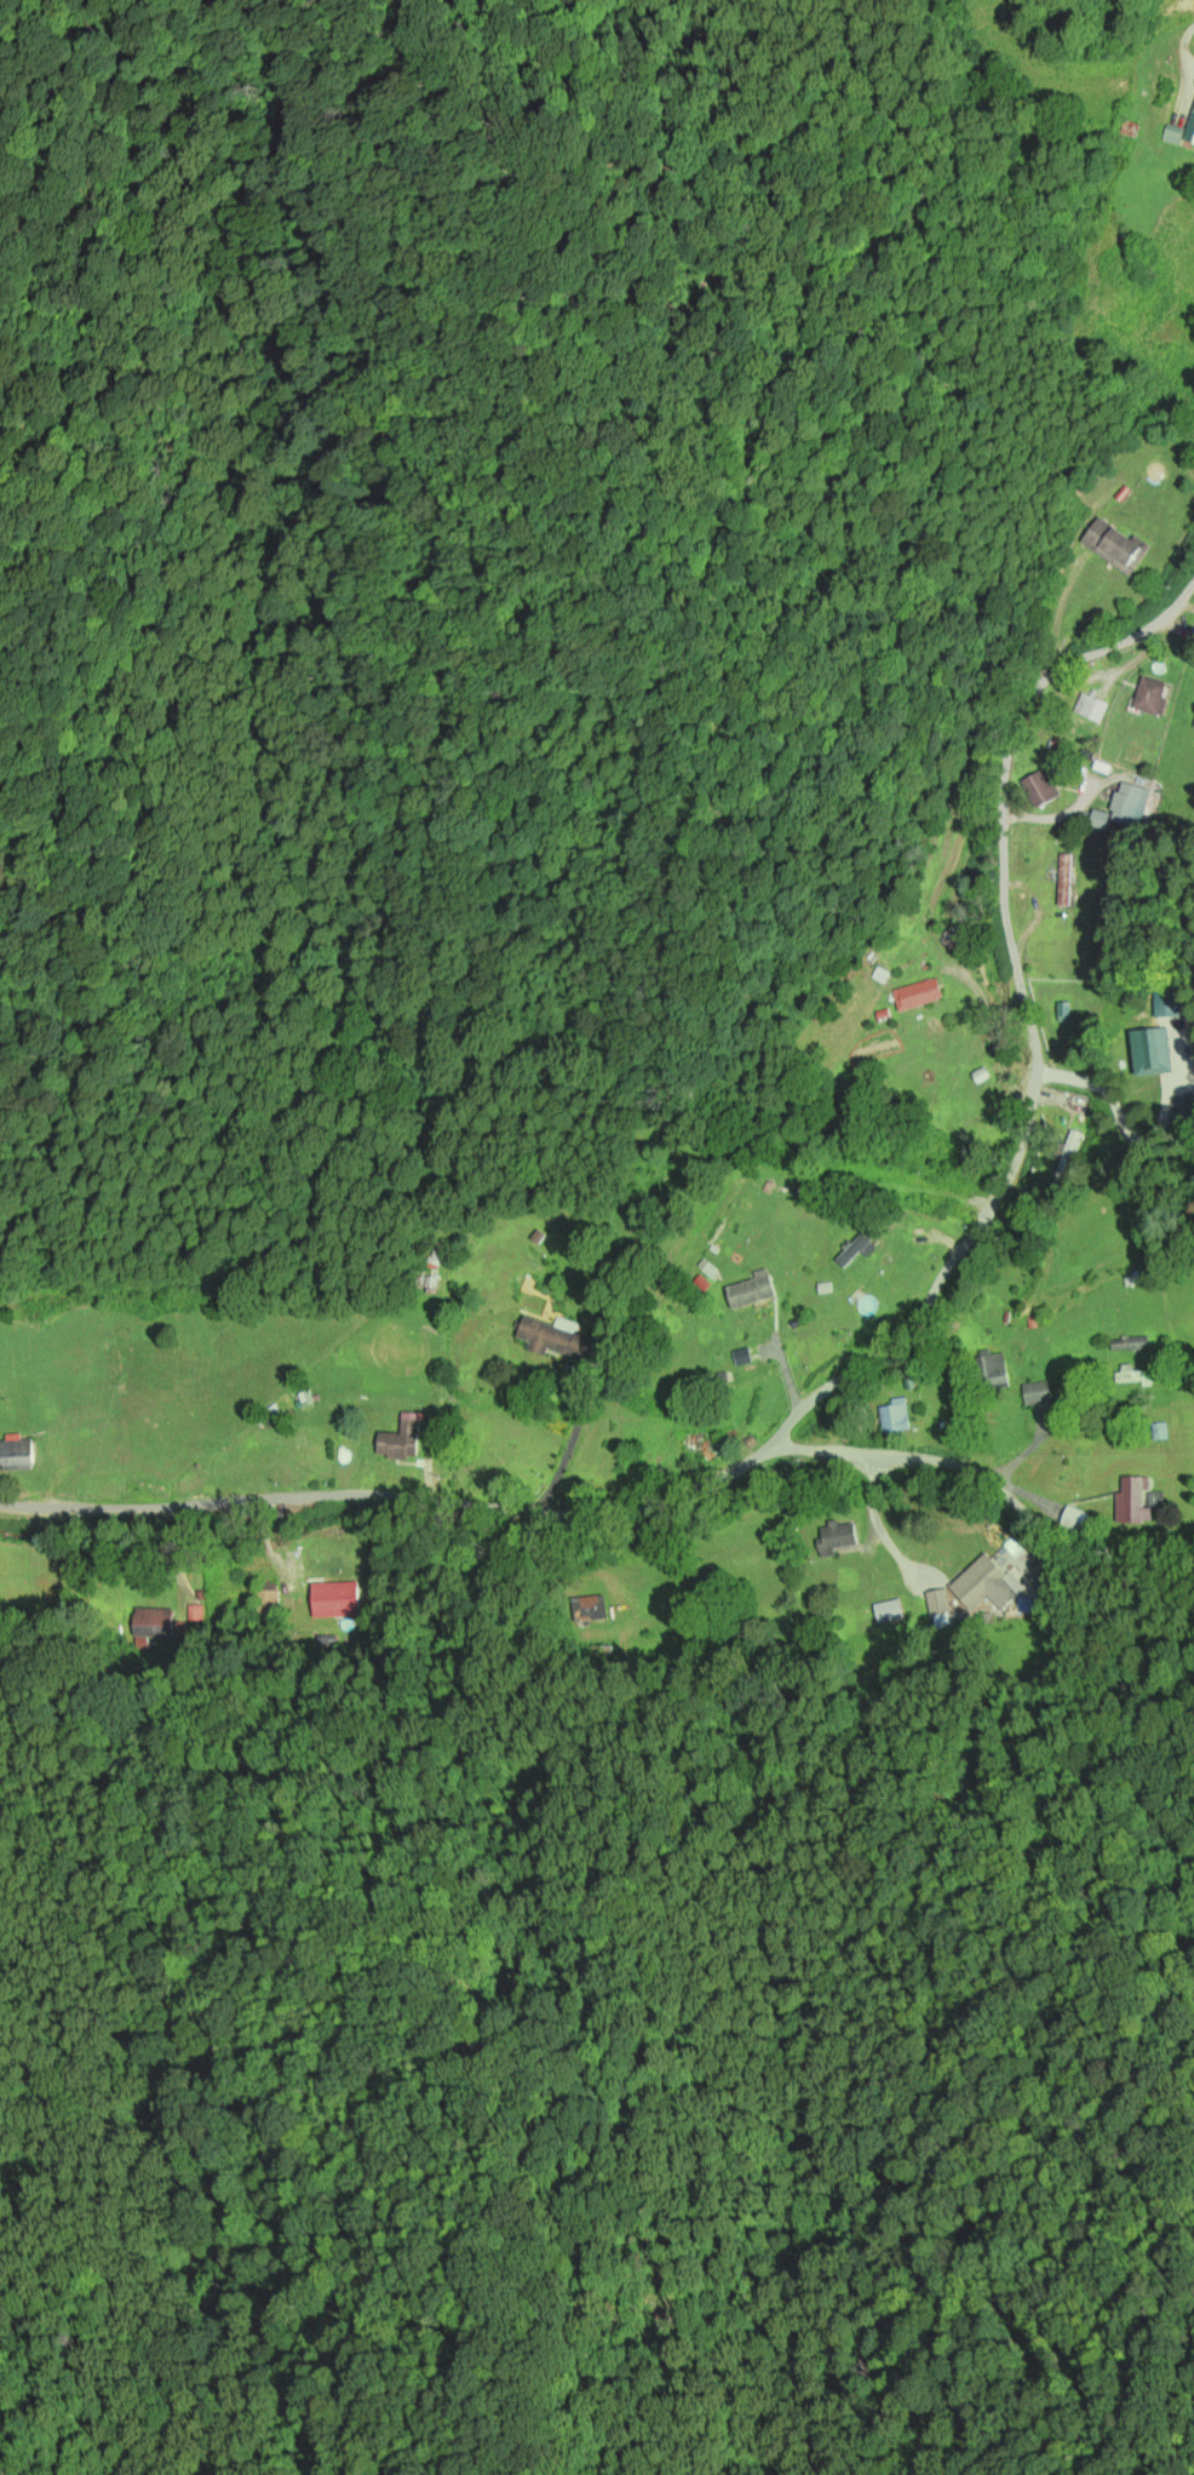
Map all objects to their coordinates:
building: (1179, 134)
building: (1115, 548)
building: (1152, 698)
building: (1091, 710)
building: (1040, 790)
building: (1126, 808)
building: (1066, 882)
building: (919, 997)
building: (1167, 1004)
road: (1027, 1020)
road: (1064, 1075)
building: (777, 1185)
park: (523, 1205)
road: (938, 1238)
building: (860, 1247)
building: (735, 1301)
building: (561, 1341)
building: (1131, 1345)
building: (721, 1347)
road: (780, 1359)
building: (994, 1371)
building: (1135, 1375)
building: (1038, 1393)
building: (48, 1405)
building: (895, 1417)
road: (570, 1440)
building: (401, 1442)
building: (705, 1446)
building: (16, 1455)
building: (303, 1465)
road: (991, 1480)
road: (390, 1494)
building: (1135, 1502)
building: (836, 1539)
building: (978, 1592)
building: (662, 1599)
building: (335, 1603)
building: (888, 1614)
building: (161, 1627)

